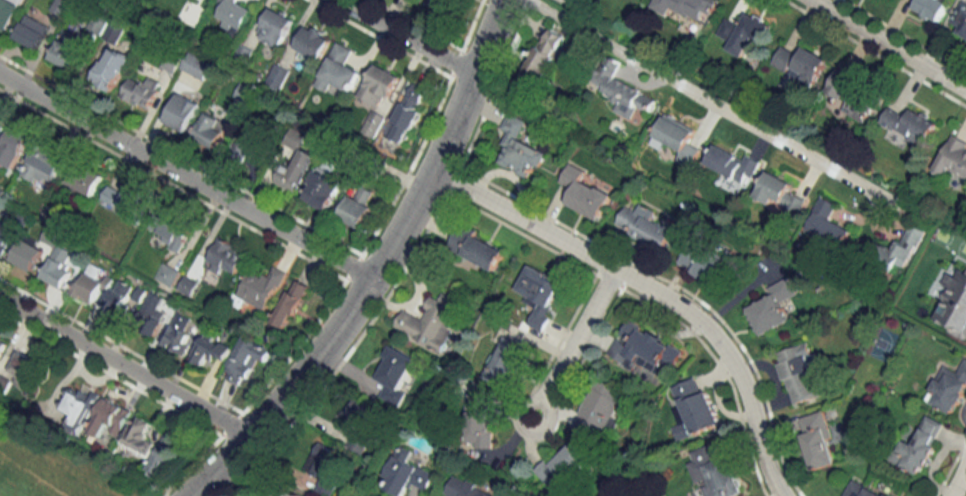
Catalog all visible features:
building: (438, 4)
building: (61, 6)
building: (689, 8)
building: (930, 8)
building: (8, 12)
building: (234, 15)
building: (961, 23)
building: (276, 26)
building: (32, 31)
building: (114, 33)
building: (742, 34)
road: (405, 38)
building: (313, 44)
road: (887, 45)
building: (69, 49)
building: (544, 52)
building: (800, 63)
building: (197, 65)
building: (112, 68)
building: (340, 69)
building: (379, 86)
building: (621, 89)
building: (141, 91)
building: (245, 92)
building: (853, 94)
road: (700, 98)
building: (183, 112)
building: (408, 113)
building: (374, 124)
building: (910, 125)
building: (211, 129)
building: (677, 138)
building: (257, 140)
road: (446, 142)
building: (12, 146)
building: (519, 149)
building: (952, 158)
building: (732, 163)
building: (42, 165)
building: (295, 171)
road: (185, 175)
road: (451, 179)
building: (84, 180)
building: (322, 188)
building: (584, 193)
building: (779, 193)
building: (125, 201)
building: (357, 208)
building: (827, 223)
building: (643, 226)
building: (171, 231)
building: (4, 234)
building: (475, 249)
building: (902, 249)
building: (27, 255)
building: (226, 256)
building: (700, 263)
building: (58, 267)
building: (168, 274)
building: (89, 284)
building: (261, 286)
road: (652, 290)
building: (540, 294)
building: (118, 298)
building: (291, 303)
building: (954, 303)
building: (772, 306)
building: (151, 314)
building: (432, 321)
building: (178, 334)
road: (120, 342)
building: (2, 346)
building: (644, 349)
building: (211, 350)
road: (342, 353)
road: (570, 357)
building: (245, 360)
building: (503, 362)
road: (126, 364)
building: (24, 370)
road: (108, 372)
building: (799, 373)
building: (396, 375)
building: (4, 383)
building: (949, 388)
road: (287, 392)
building: (80, 406)
building: (693, 408)
building: (600, 410)
building: (110, 418)
building: (361, 424)
building: (480, 430)
building: (139, 433)
building: (818, 440)
building: (918, 447)
building: (166, 453)
road: (188, 465)
building: (567, 467)
building: (327, 468)
building: (714, 473)
building: (406, 474)
road: (956, 478)
building: (467, 488)
building: (862, 489)
building: (283, 492)

